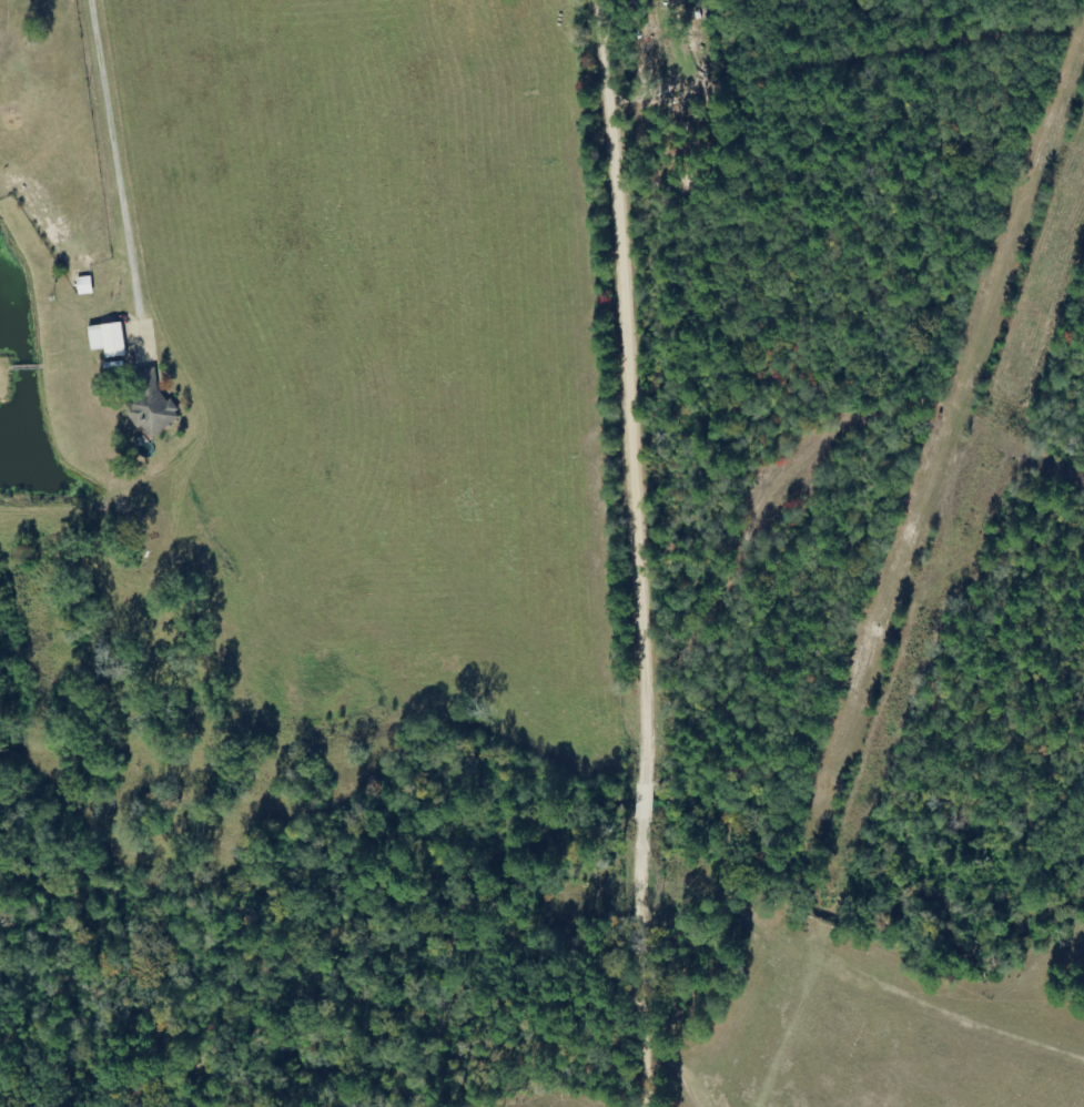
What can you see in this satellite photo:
building: (87, 285)
building: (110, 341)
building: (152, 403)
road: (626, 552)

